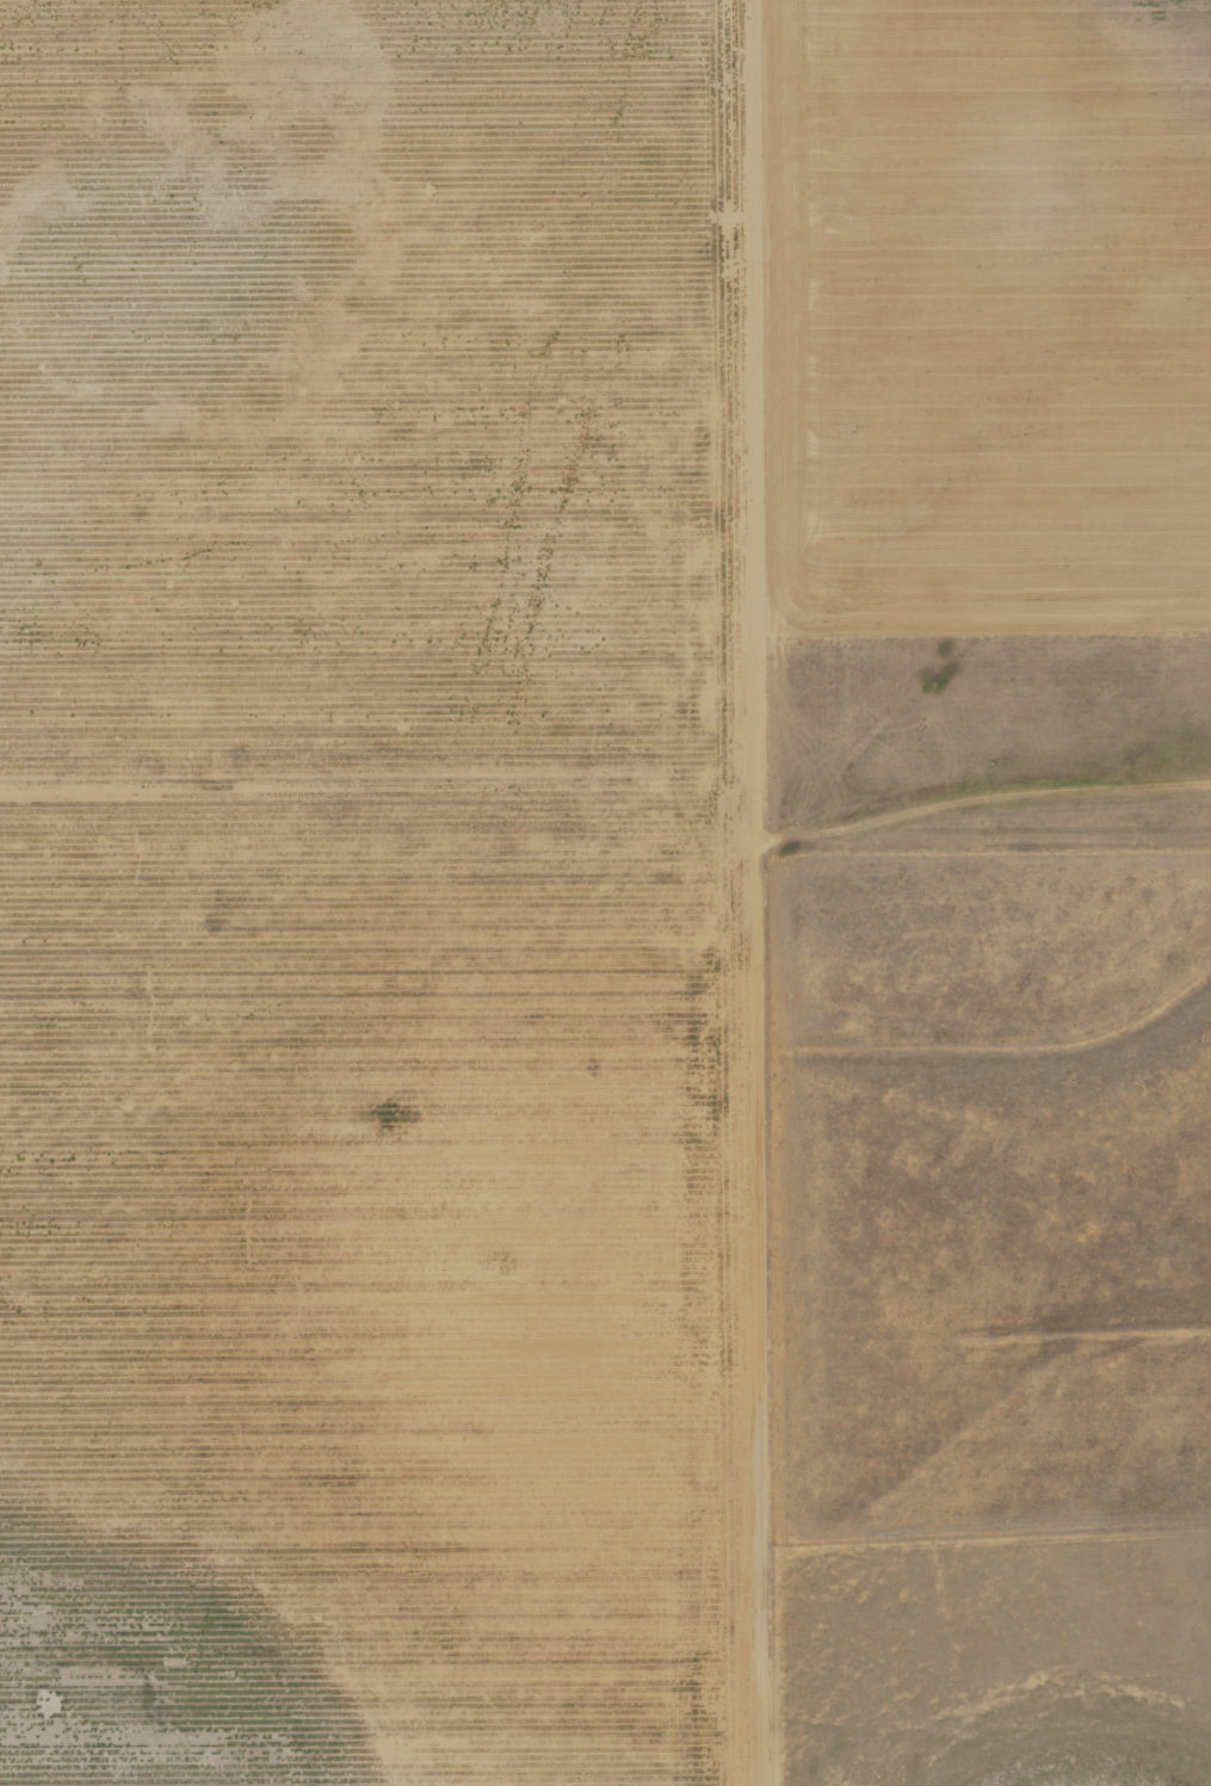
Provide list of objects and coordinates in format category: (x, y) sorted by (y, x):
road: (977, 797)
road: (755, 892)

